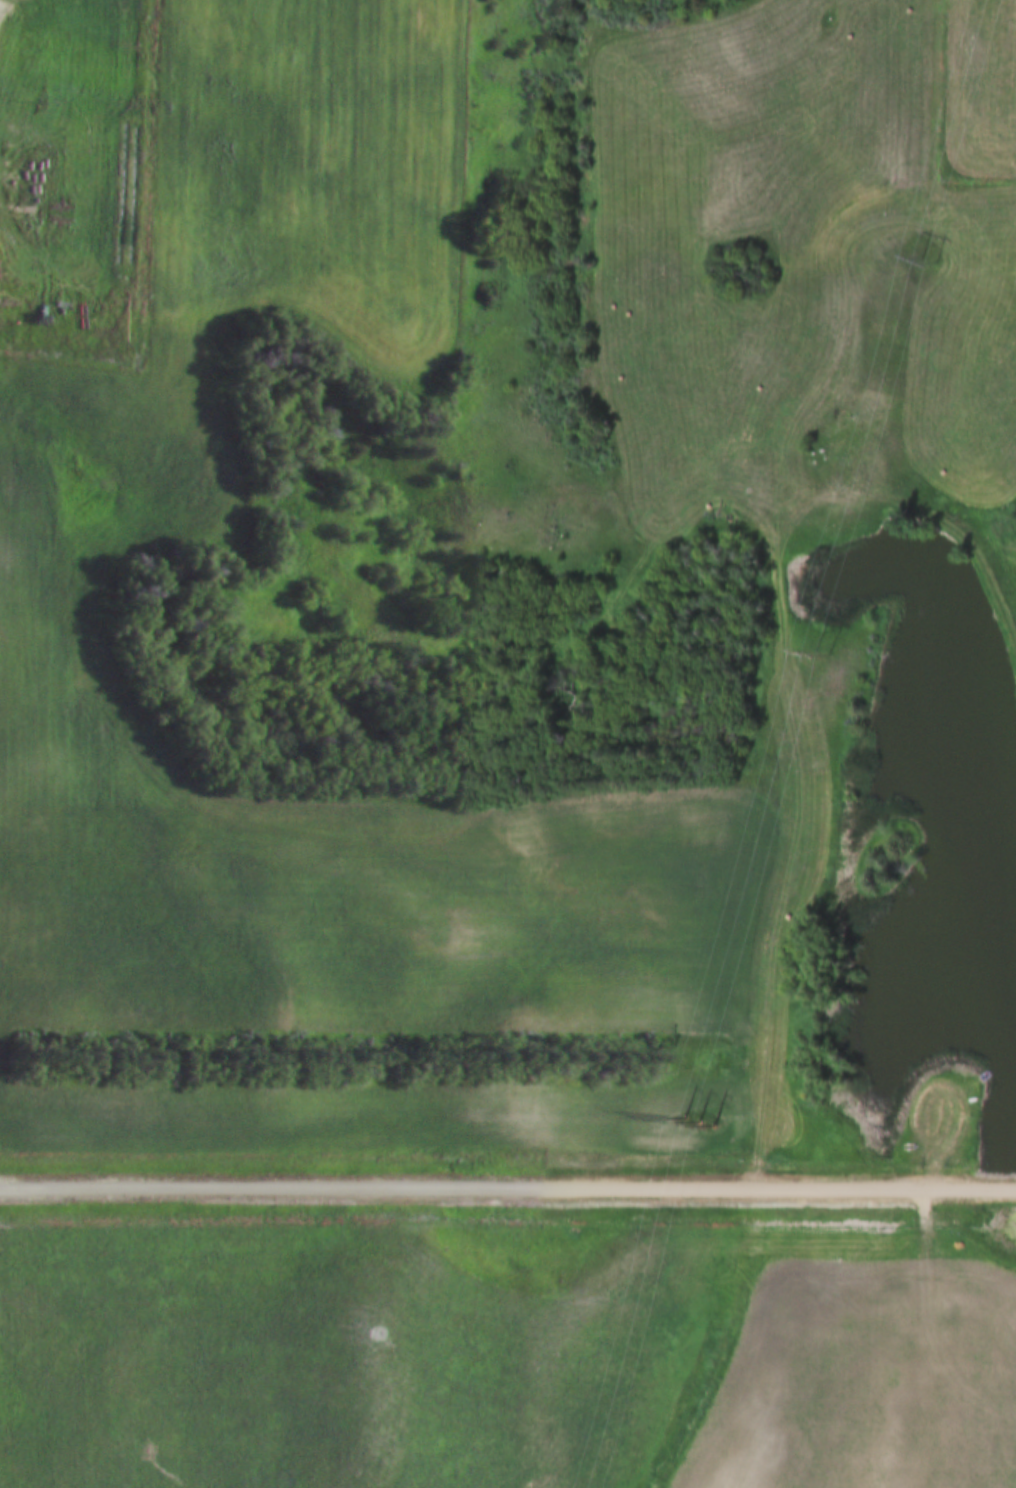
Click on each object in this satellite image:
power tower: (933, 257)
power tower: (831, 651)
power tower: (707, 1111)
road: (508, 1187)

